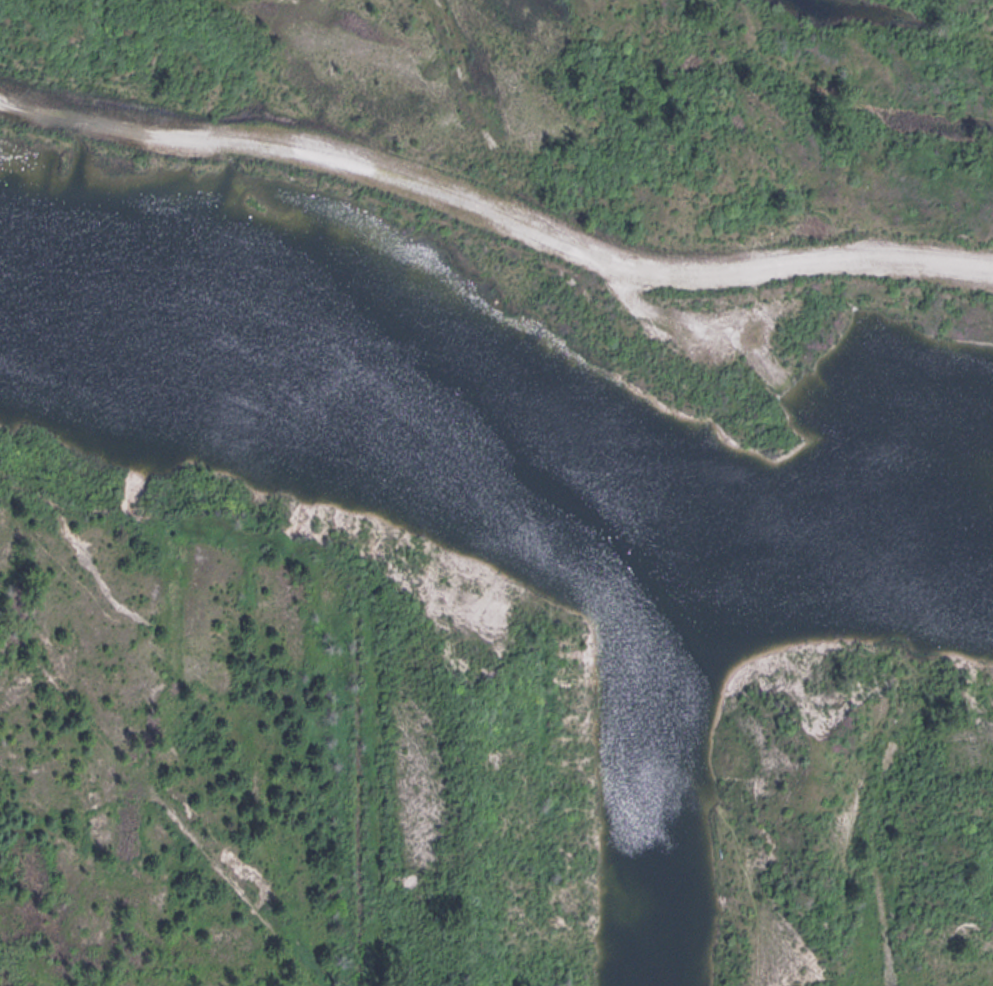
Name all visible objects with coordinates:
road: (494, 211)

